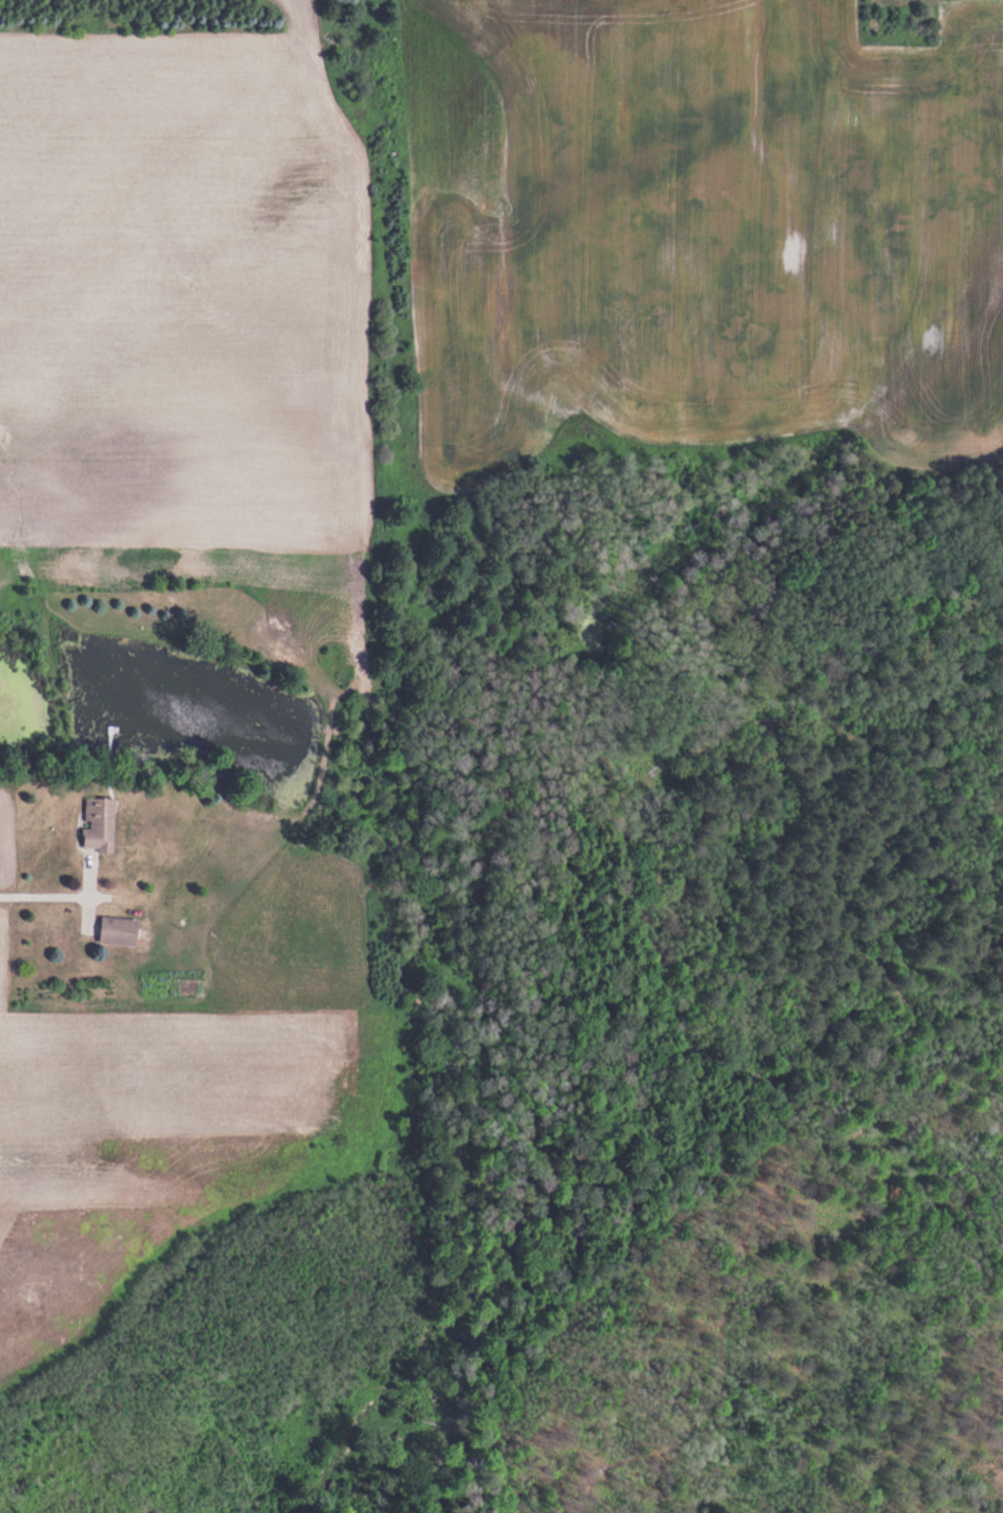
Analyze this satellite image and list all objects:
building: (98, 823)
road: (44, 893)
building: (118, 930)

